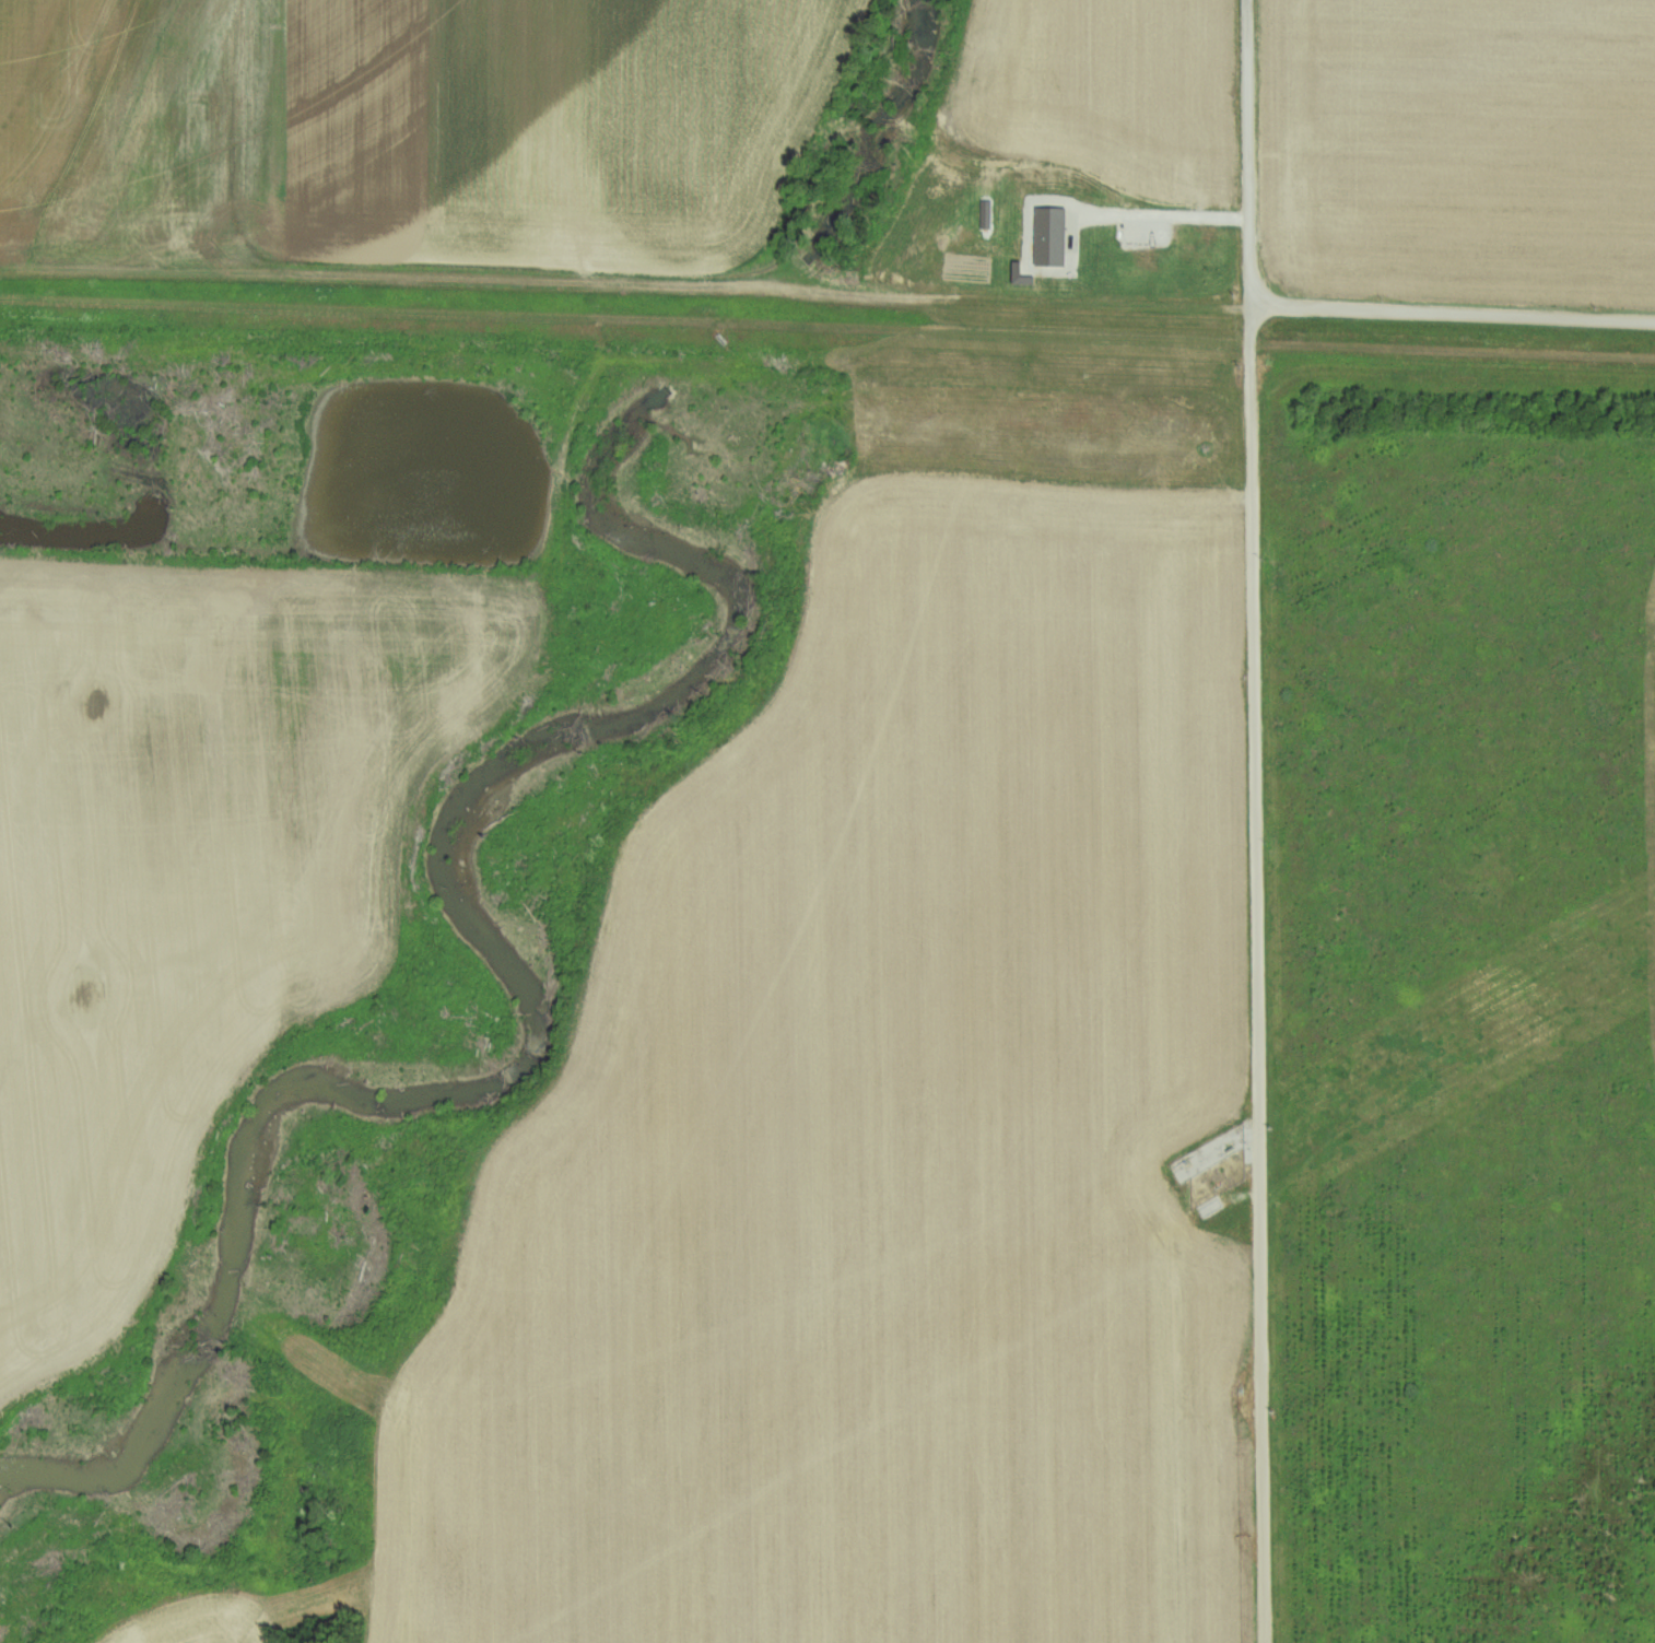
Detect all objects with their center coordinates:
road: (1164, 219)
road: (1451, 315)
road: (1258, 821)
road: (621, 858)

